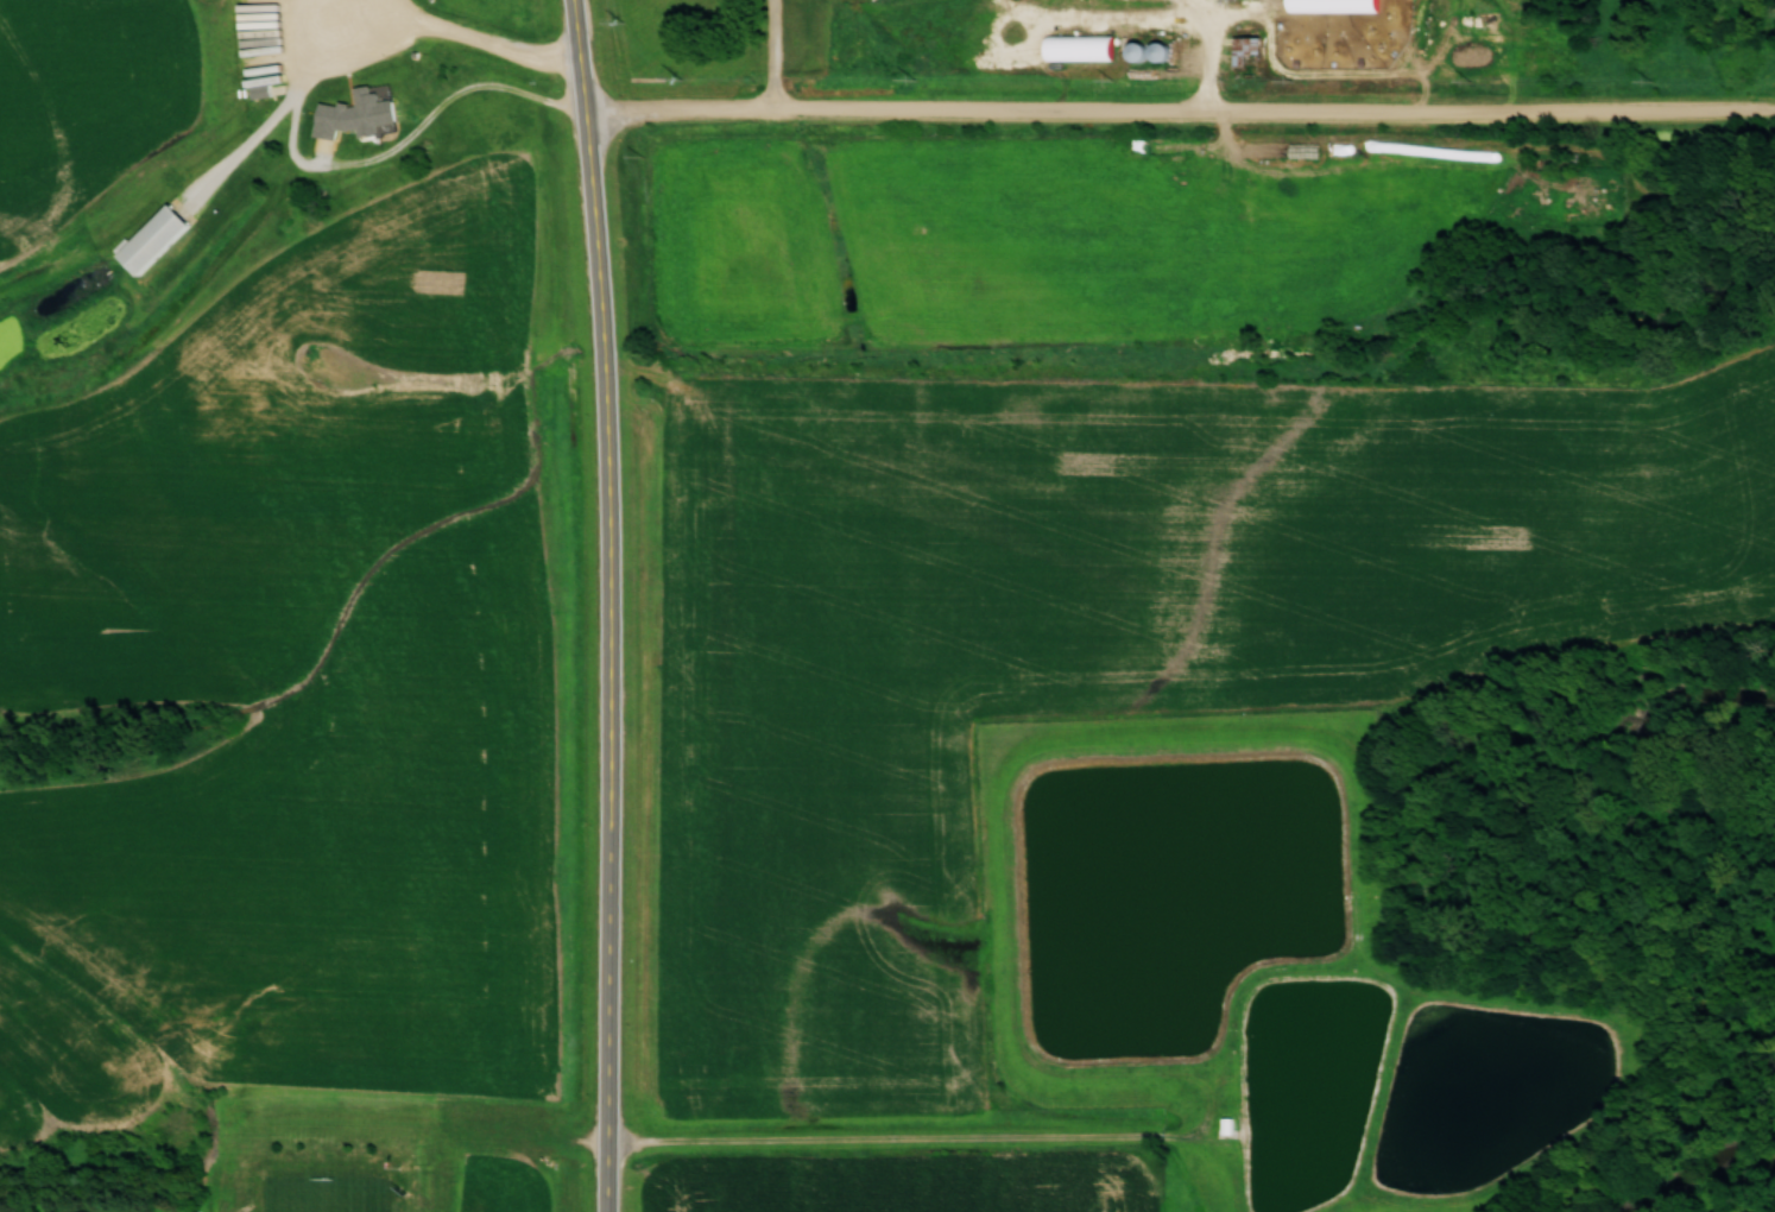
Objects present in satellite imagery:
road: (447, 33)
building: (1245, 48)
building: (1145, 50)
road: (775, 56)
road: (1182, 112)
building: (354, 113)
building: (151, 238)
road: (613, 563)
road: (611, 1170)

